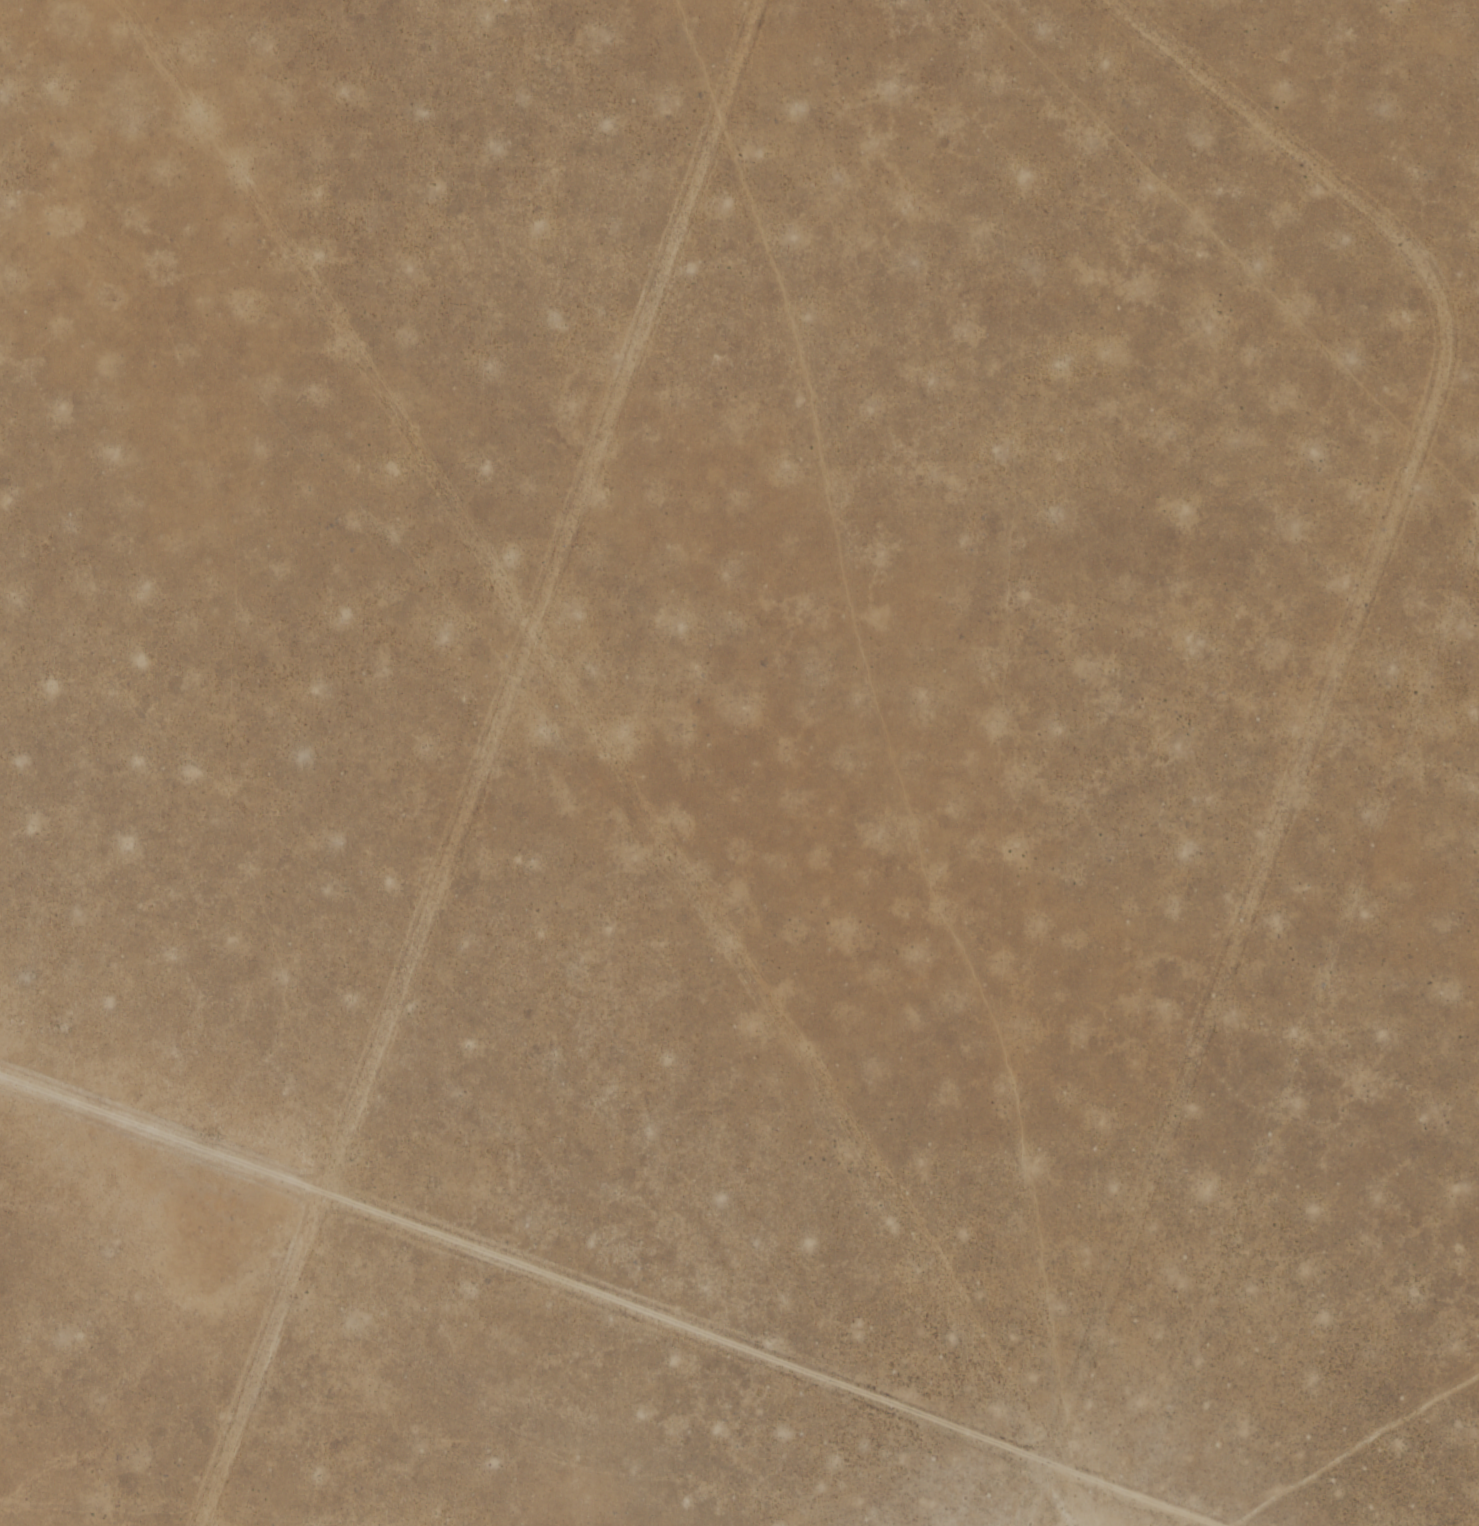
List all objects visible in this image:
road: (608, 1297)

